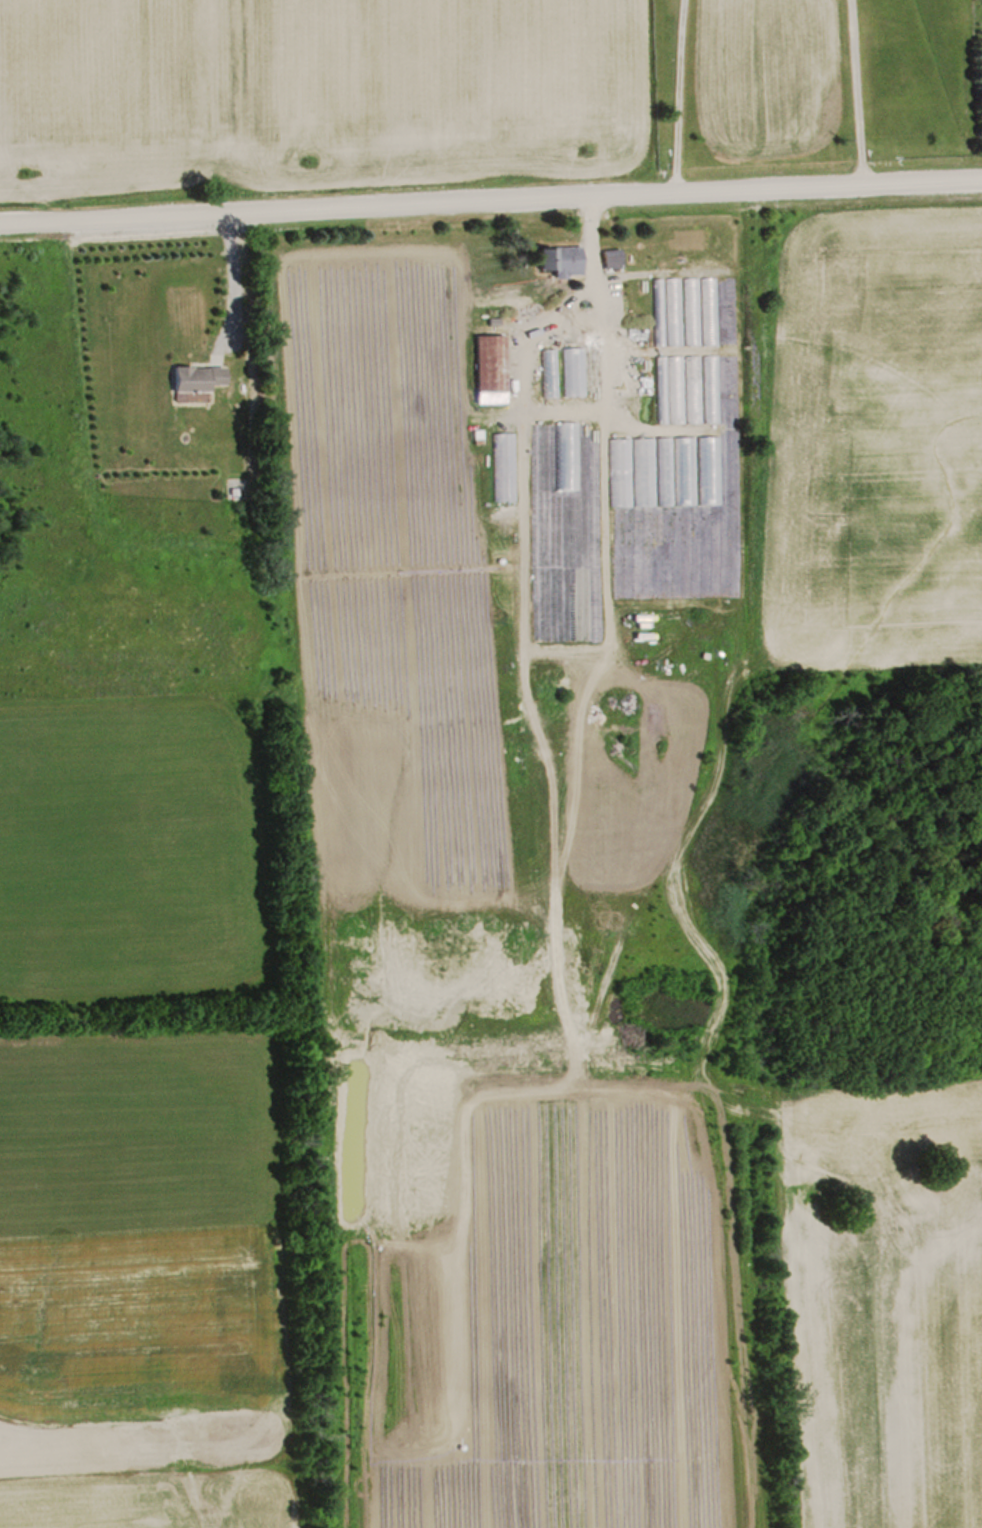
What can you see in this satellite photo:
road: (491, 200)
building: (564, 260)
building: (576, 362)
building: (492, 371)
building: (200, 378)
building: (669, 389)
building: (659, 482)
building: (236, 489)

